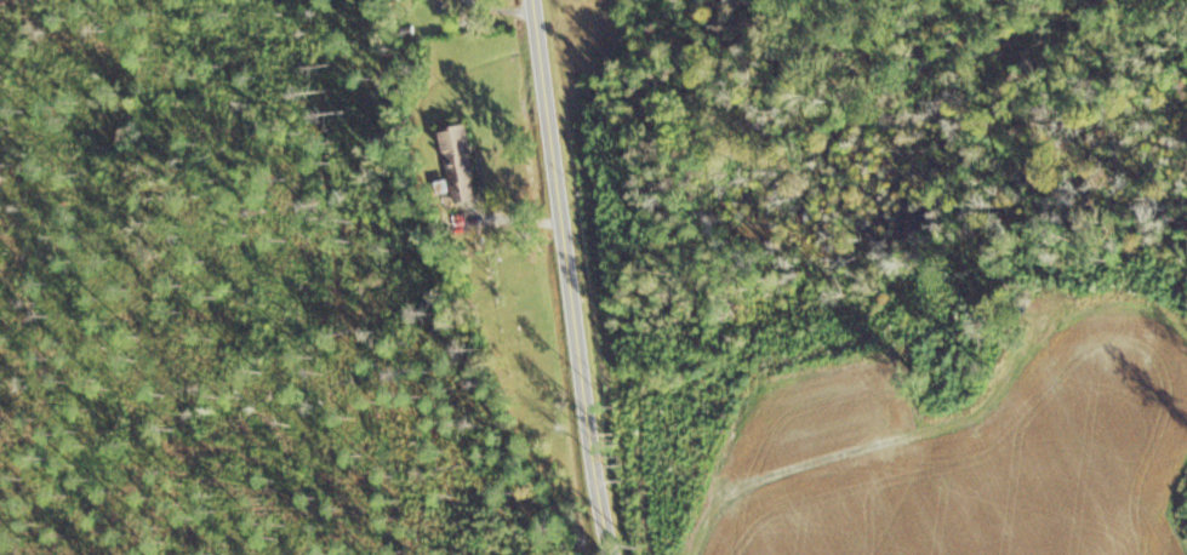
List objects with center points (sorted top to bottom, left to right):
building: (457, 164)
road: (572, 277)

